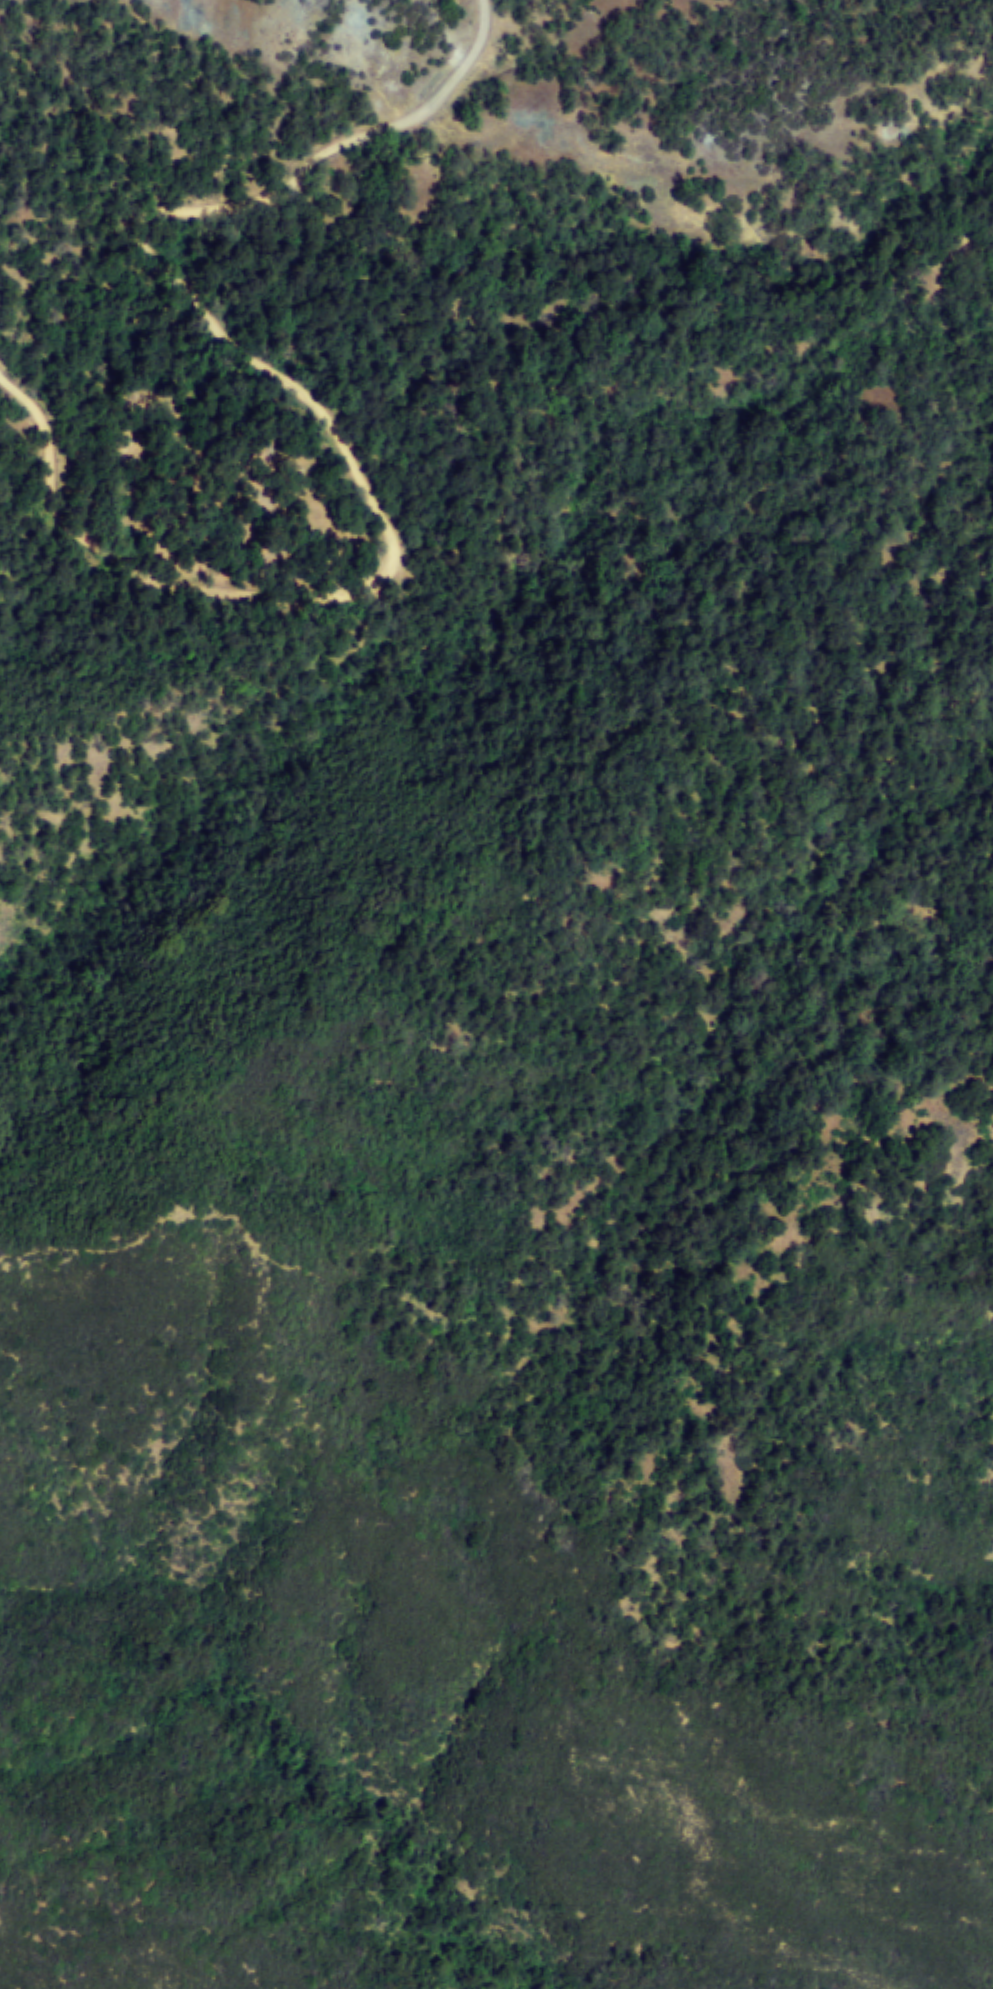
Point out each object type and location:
road: (309, 400)
water tower: (330, 618)

